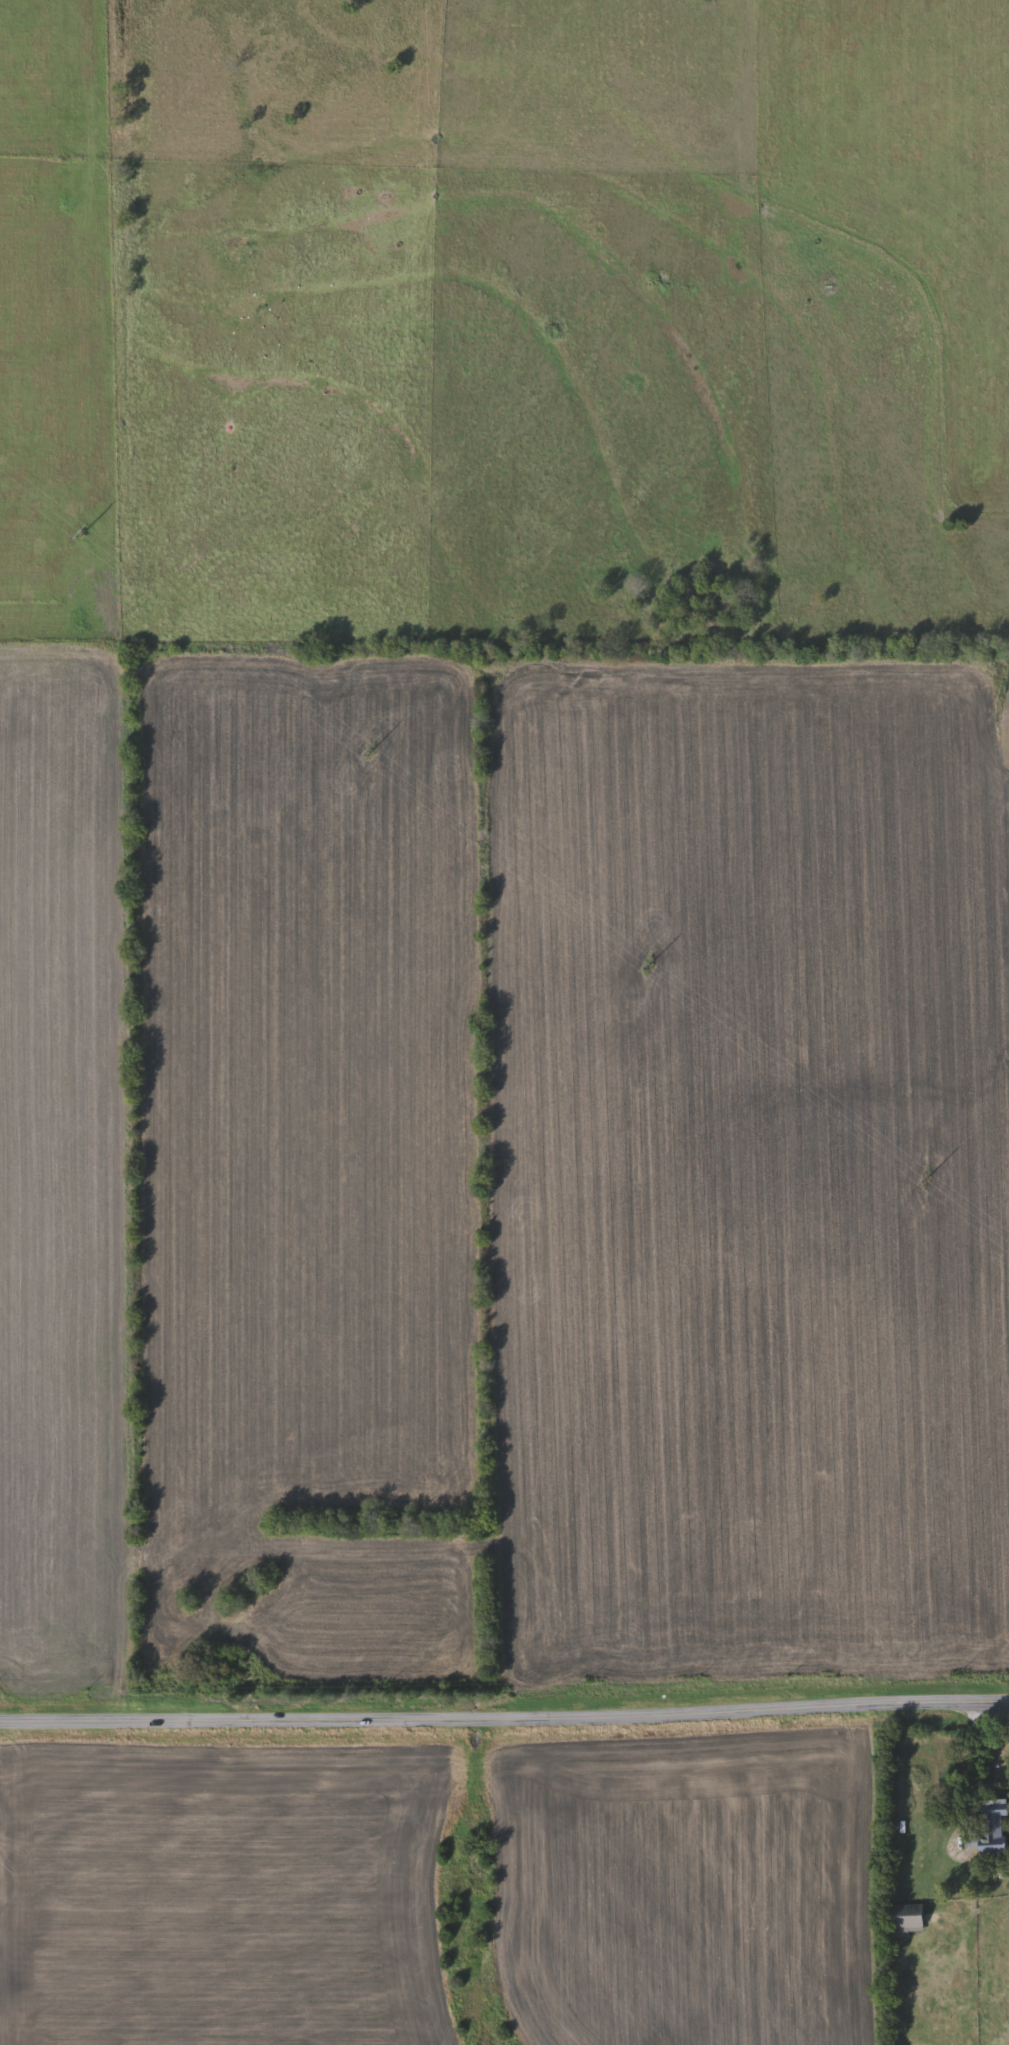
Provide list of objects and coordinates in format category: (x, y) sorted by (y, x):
power tower: (84, 531)
power tower: (371, 752)
power tower: (649, 966)
power tower: (926, 1180)
road: (504, 1726)
road: (970, 1775)
building: (992, 1829)
building: (909, 1917)

